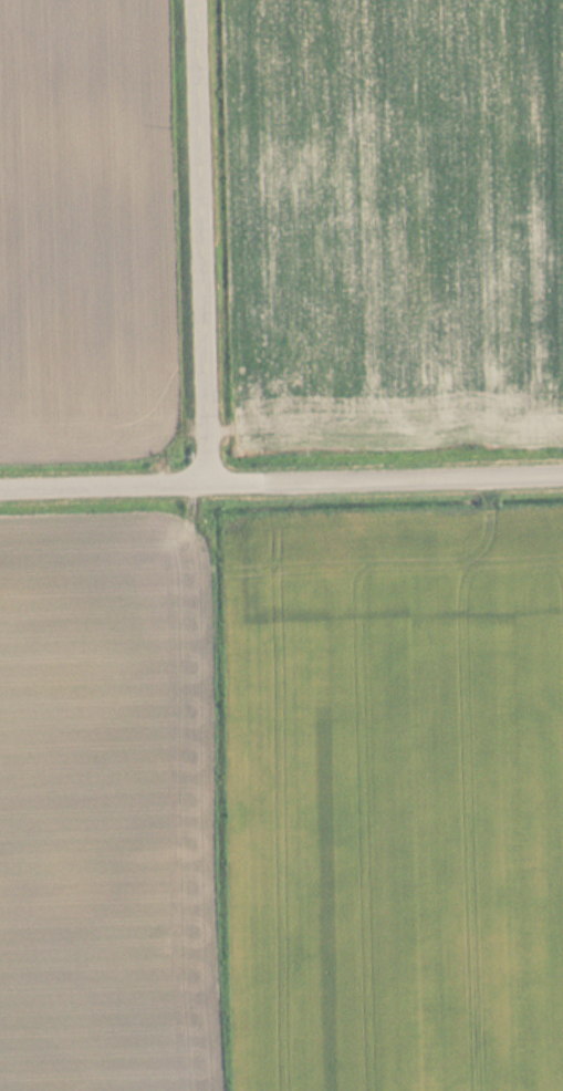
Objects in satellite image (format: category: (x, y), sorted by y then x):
road: (209, 240)
road: (388, 476)
road: (107, 484)

